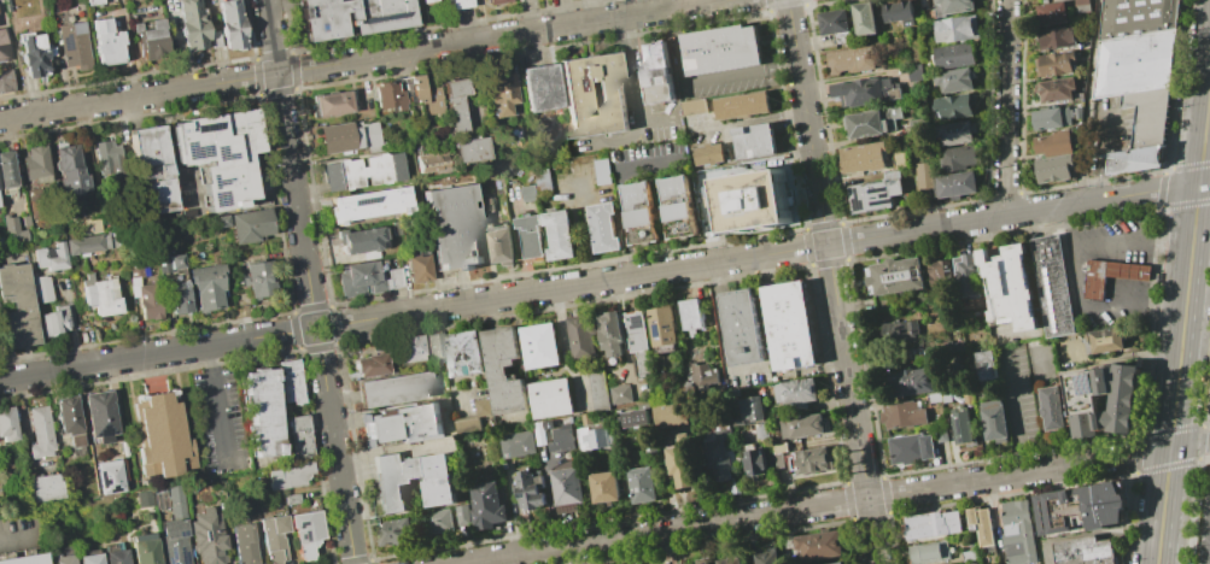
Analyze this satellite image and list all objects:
building: (425, 0)
building: (93, 1)
building: (492, 1)
building: (458, 4)
building: (953, 6)
building: (898, 11)
building: (1052, 13)
building: (350, 16)
building: (864, 17)
rooftop solar panel: (382, 18)
building: (229, 24)
building: (835, 24)
building: (193, 25)
building: (957, 29)
building: (1057, 37)
building: (148, 40)
building: (106, 42)
building: (74, 45)
building: (2, 46)
building: (720, 48)
building: (33, 54)
building: (955, 55)
road: (361, 59)
building: (850, 59)
building: (1054, 63)
building: (1134, 63)
building: (655, 72)
building: (914, 72)
road: (633, 76)
road: (701, 80)
building: (952, 80)
building: (5, 81)
building: (539, 87)
building: (1057, 89)
building: (864, 90)
building: (499, 94)
building: (387, 95)
building: (592, 95)
building: (422, 98)
building: (454, 102)
building: (333, 104)
building: (741, 105)
building: (692, 106)
building: (953, 106)
road: (1006, 107)
building: (1147, 116)
road: (756, 118)
building: (1051, 118)
building: (871, 122)
building: (954, 133)
building: (347, 135)
building: (754, 140)
building: (1053, 143)
building: (469, 148)
building: (218, 154)
building: (708, 154)
building: (106, 158)
road: (288, 158)
building: (864, 158)
building: (1134, 159)
building: (431, 160)
building: (33, 165)
building: (1054, 168)
building: (148, 169)
building: (6, 170)
building: (68, 170)
building: (361, 171)
building: (601, 171)
building: (957, 171)
building: (923, 175)
building: (542, 180)
road: (619, 189)
building: (527, 193)
building: (872, 194)
building: (753, 200)
rooftop solar panel: (361, 202)
building: (368, 204)
building: (677, 206)
building: (639, 212)
road: (1202, 219)
building: (89, 225)
building: (249, 225)
building: (603, 227)
building: (452, 228)
building: (11, 230)
building: (559, 234)
building: (528, 237)
building: (361, 240)
road: (1132, 242)
building: (86, 243)
building: (501, 245)
road: (768, 254)
building: (48, 257)
building: (166, 260)
building: (416, 264)
building: (971, 275)
building: (1111, 275)
building: (367, 277)
building: (894, 278)
building: (258, 280)
road: (832, 282)
building: (939, 283)
building: (1053, 286)
building: (205, 287)
building: (41, 288)
building: (1010, 293)
building: (100, 294)
building: (179, 296)
building: (150, 301)
building: (16, 306)
road: (1081, 309)
building: (692, 315)
building: (53, 321)
road: (326, 321)
road: (1183, 321)
rooftop solar panel: (637, 322)
building: (742, 327)
building: (790, 327)
building: (664, 329)
building: (895, 330)
rooftop solar panel: (659, 331)
building: (612, 334)
building: (583, 336)
road: (721, 340)
building: (1105, 341)
building: (639, 343)
building: (434, 346)
building: (542, 346)
building: (409, 348)
building: (464, 353)
road: (151, 354)
building: (370, 365)
building: (986, 366)
building: (504, 370)
building: (703, 375)
building: (290, 382)
building: (906, 384)
rooftop solar panel: (1089, 388)
building: (396, 389)
building: (600, 390)
building: (797, 390)
building: (621, 393)
road: (216, 396)
building: (939, 396)
building: (1106, 396)
building: (553, 398)
building: (481, 406)
building: (753, 409)
building: (1053, 410)
building: (259, 411)
building: (668, 413)
road: (1017, 413)
building: (99, 415)
building: (905, 416)
building: (635, 418)
building: (68, 421)
building: (995, 422)
parking lot: (215, 423)
building: (6, 424)
building: (403, 424)
building: (467, 424)
building: (805, 425)
rooftop solar panel: (958, 425)
building: (964, 429)
building: (40, 431)
building: (941, 434)
building: (159, 435)
building: (298, 436)
building: (595, 437)
building: (563, 439)
building: (519, 445)
building: (912, 450)
road: (335, 452)
building: (720, 454)
building: (755, 459)
building: (812, 460)
building: (680, 466)
building: (286, 475)
building: (107, 476)
building: (411, 481)
building: (643, 484)
building: (45, 487)
building: (606, 488)
building: (567, 489)
building: (530, 490)
building: (144, 499)
building: (173, 499)
road: (838, 503)
building: (489, 504)
building: (1082, 507)
building: (462, 513)
building: (440, 522)
parking lot: (1205, 523)
building: (933, 524)
building: (981, 525)
parking lot: (21, 531)
building: (397, 531)
building: (1016, 531)
building: (305, 533)
rooftop solar panel: (181, 534)
road: (17, 536)
building: (207, 536)
building: (273, 539)
building: (174, 541)
building: (242, 544)
building: (818, 545)
building: (144, 548)
building: (1083, 550)
building: (928, 552)
building: (63, 556)
building: (115, 557)
building: (767, 557)
building: (88, 558)
building: (24, 559)
rooftop solar panel: (185, 559)
building: (731, 560)
building: (707, 563)
building: (836, 563)

